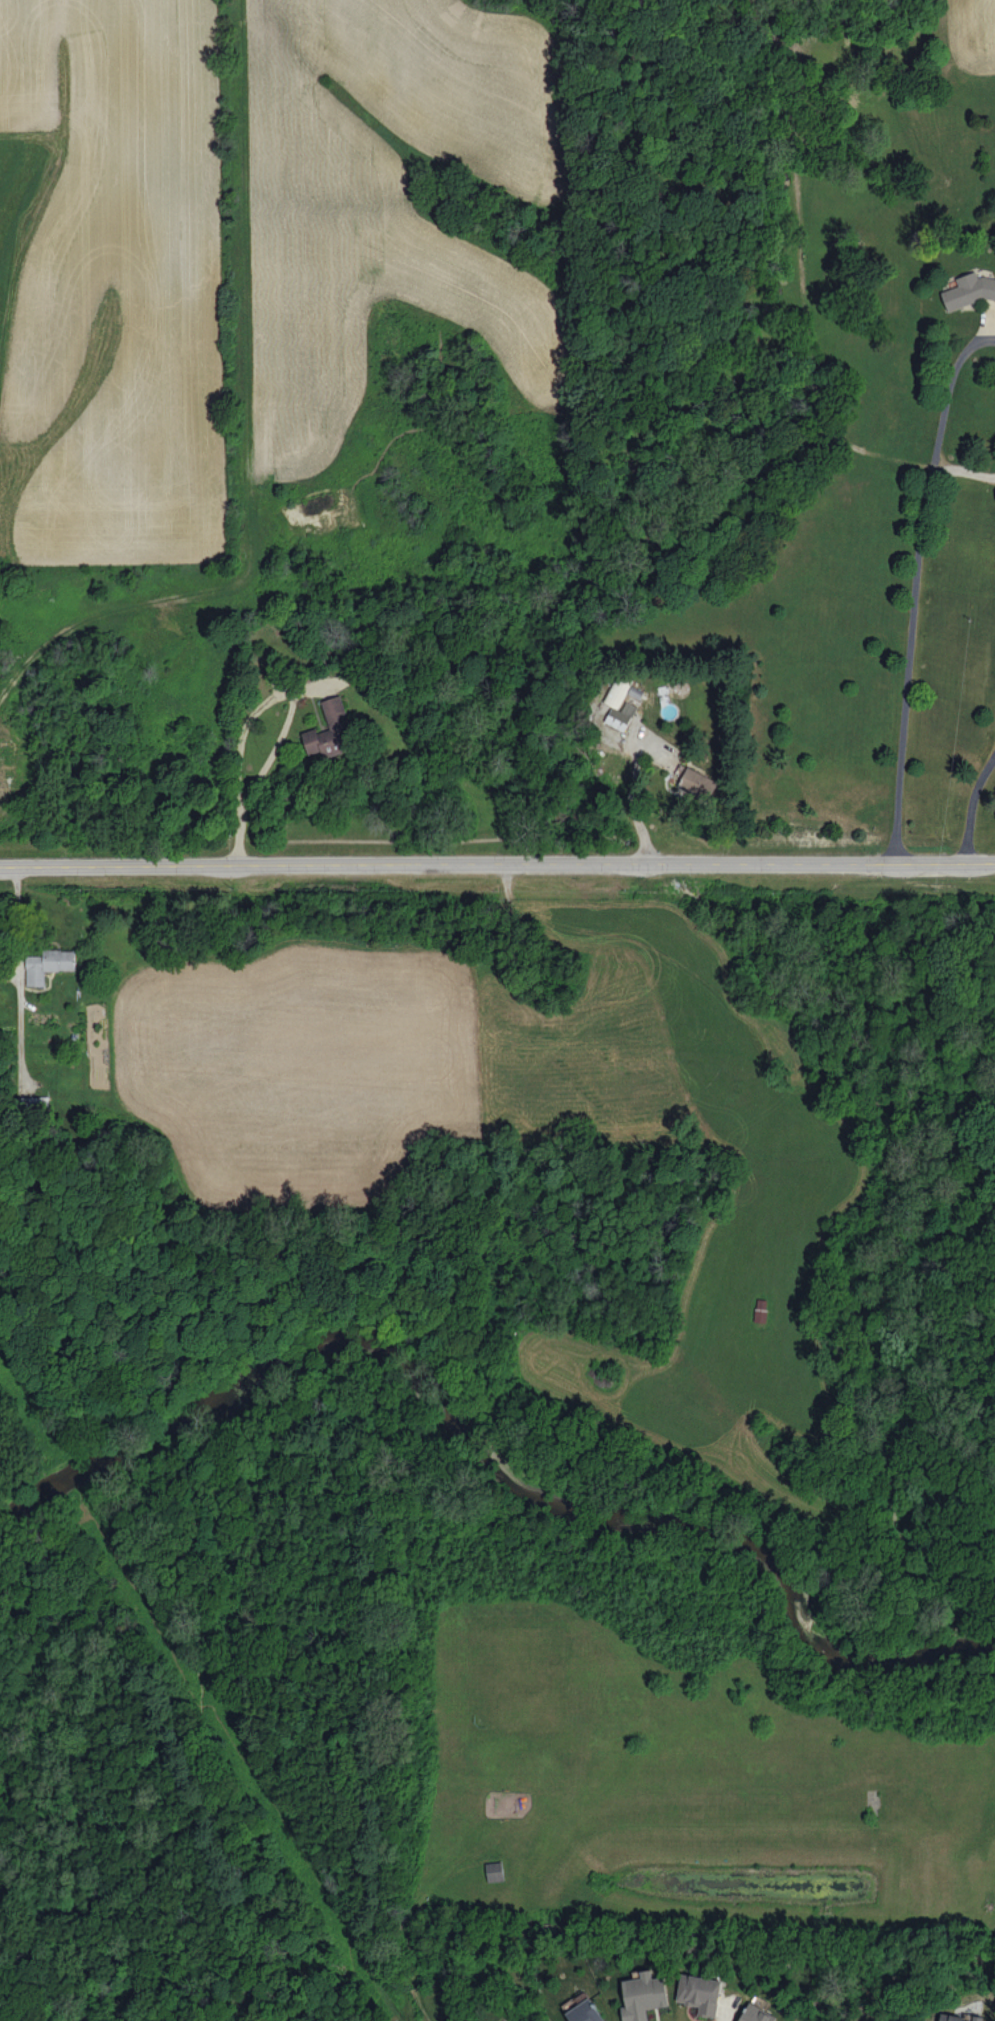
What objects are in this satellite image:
building: (969, 290)
road: (963, 471)
road: (915, 590)
building: (614, 703)
building: (329, 730)
road: (268, 766)
building: (698, 783)
road: (632, 803)
road: (970, 808)
road: (497, 869)
road: (21, 934)
building: (48, 964)
river: (482, 1444)
building: (495, 1871)
building: (700, 1993)
building: (643, 1996)
building: (585, 2012)
building: (756, 2014)
building: (959, 2018)

